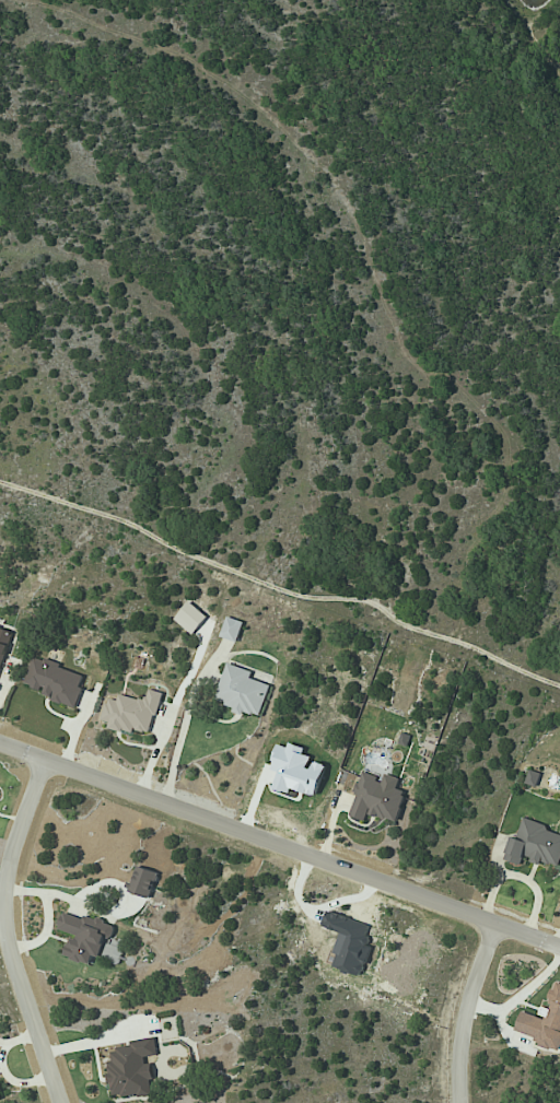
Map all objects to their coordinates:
building: (232, 629)
building: (3, 644)
building: (56, 681)
building: (242, 691)
building: (132, 712)
road: (184, 723)
building: (533, 778)
building: (376, 799)
building: (535, 844)
road: (279, 845)
road: (520, 877)
building: (143, 882)
road: (5, 931)
building: (84, 936)
road: (559, 942)
building: (112, 950)
road: (520, 995)
road: (468, 1011)
building: (542, 1022)
building: (131, 1068)

